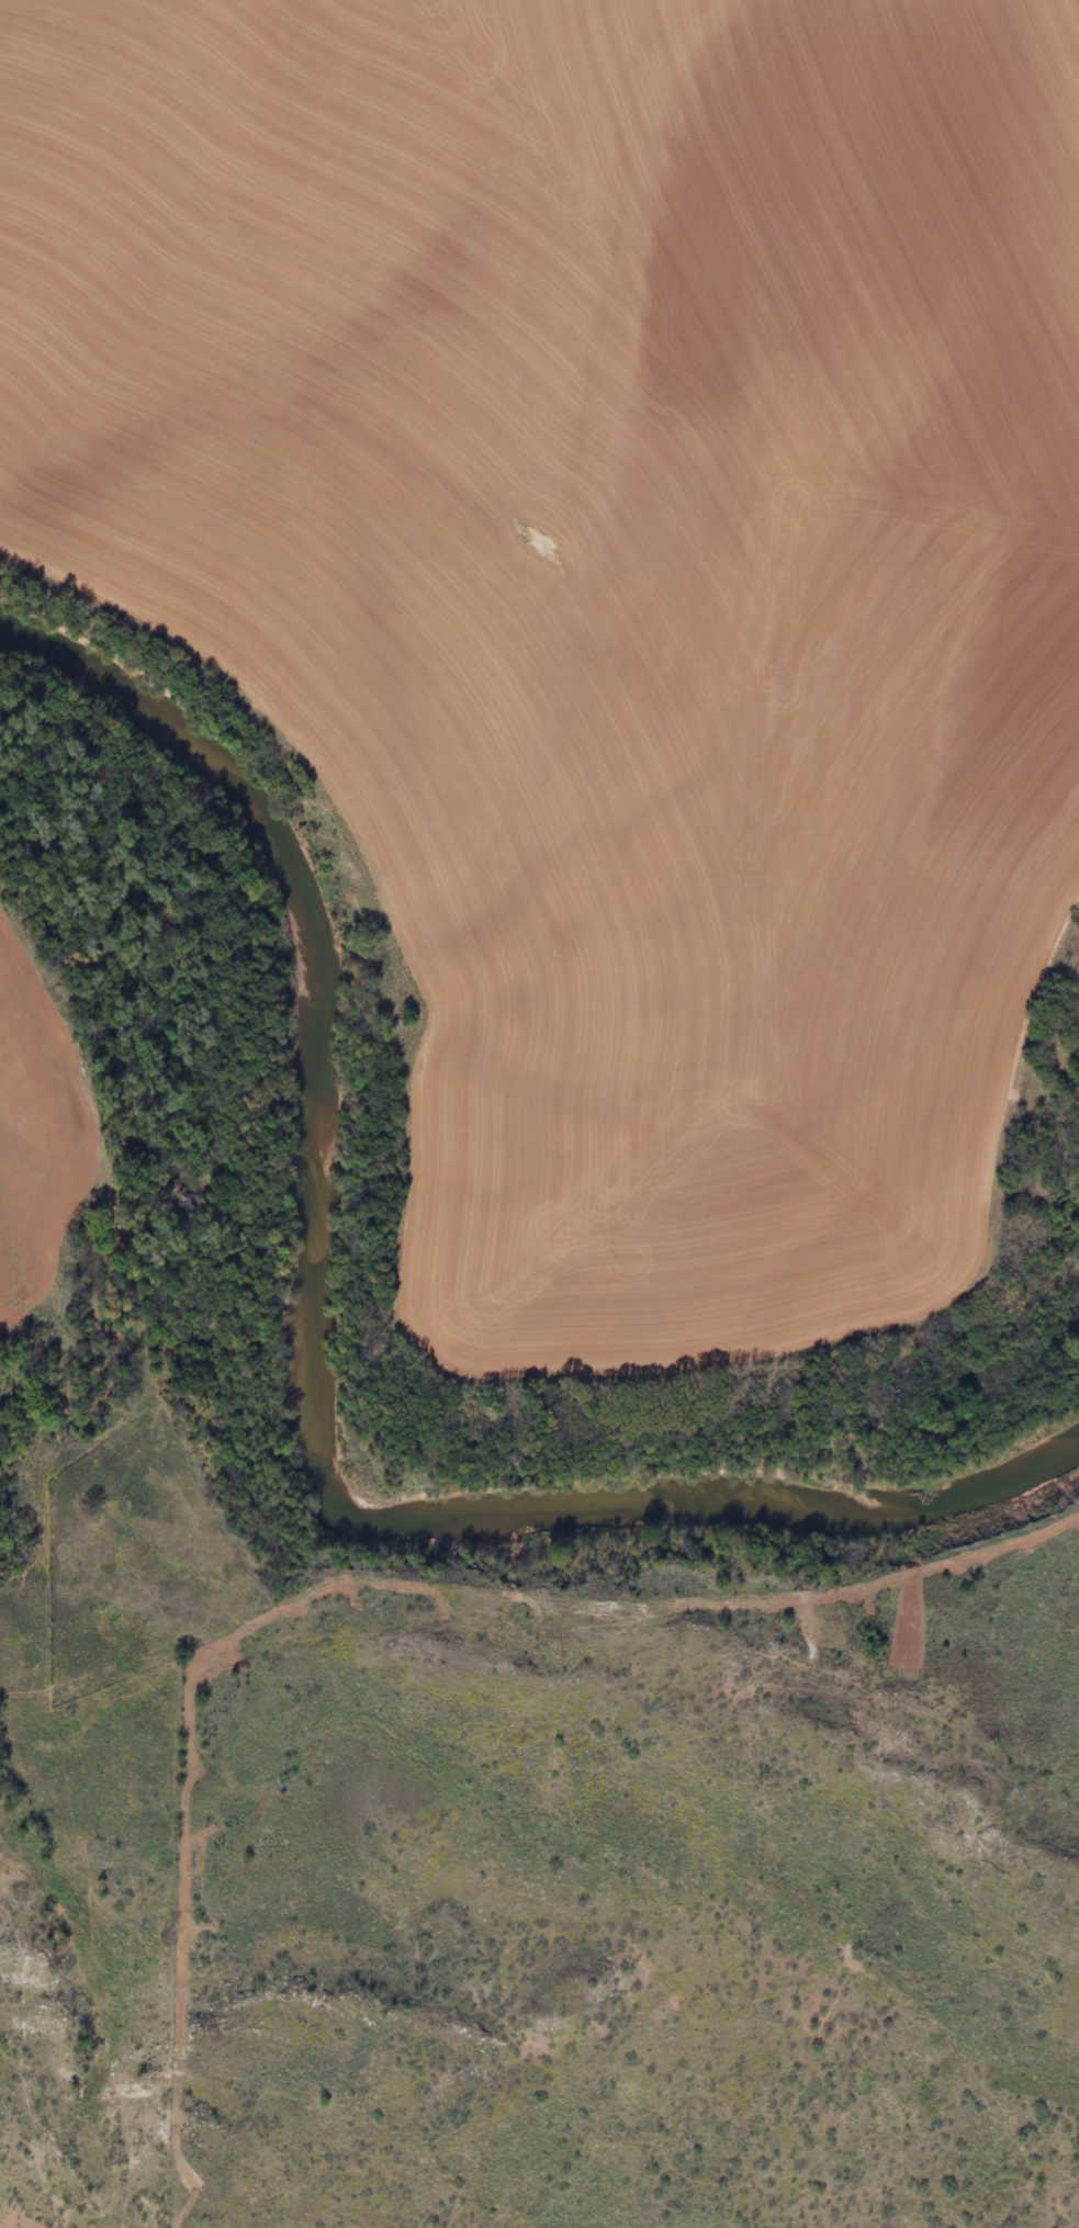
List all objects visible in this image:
river: (304, 1391)

